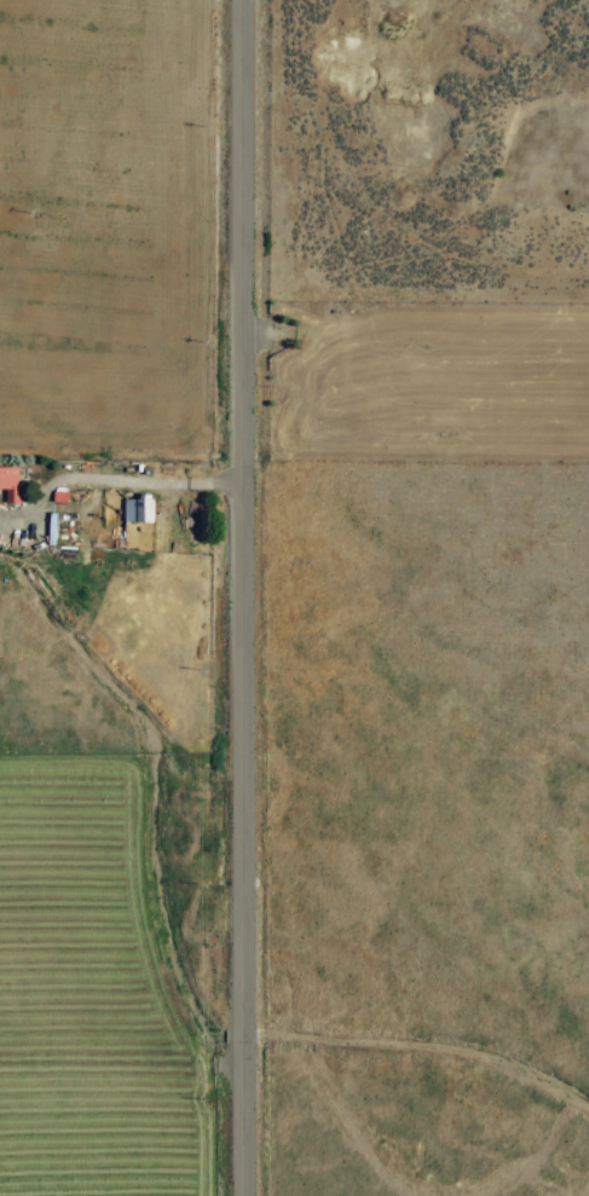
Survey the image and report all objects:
road: (114, 478)
building: (8, 481)
building: (138, 508)
road: (237, 597)
crop: (294, 597)

